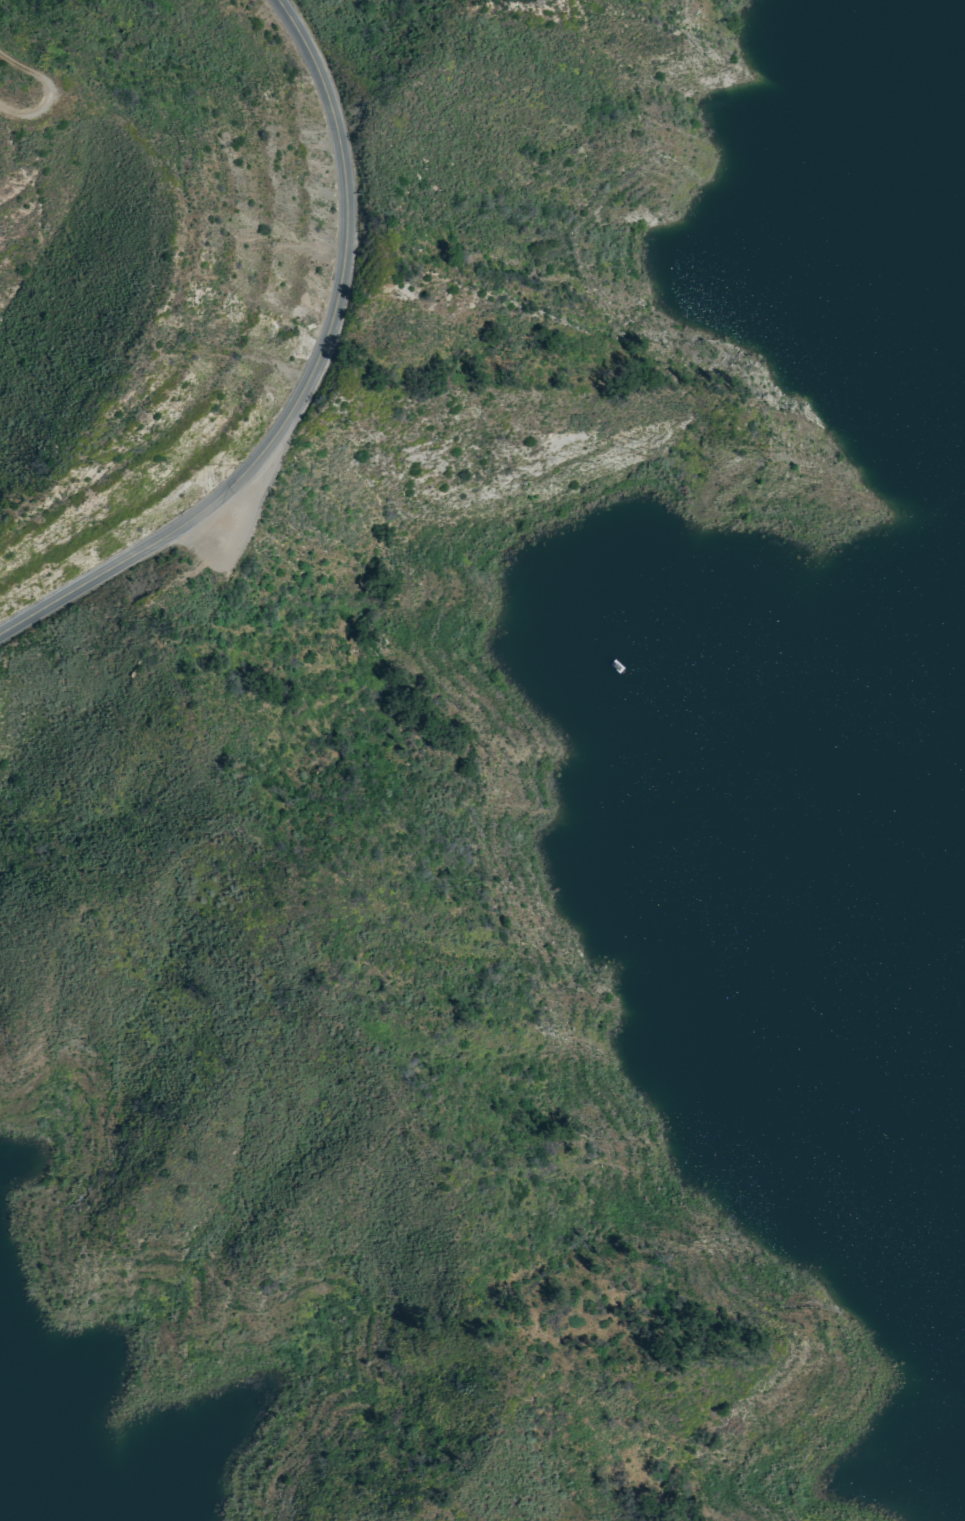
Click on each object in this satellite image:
road: (44, 86)
road: (303, 377)

